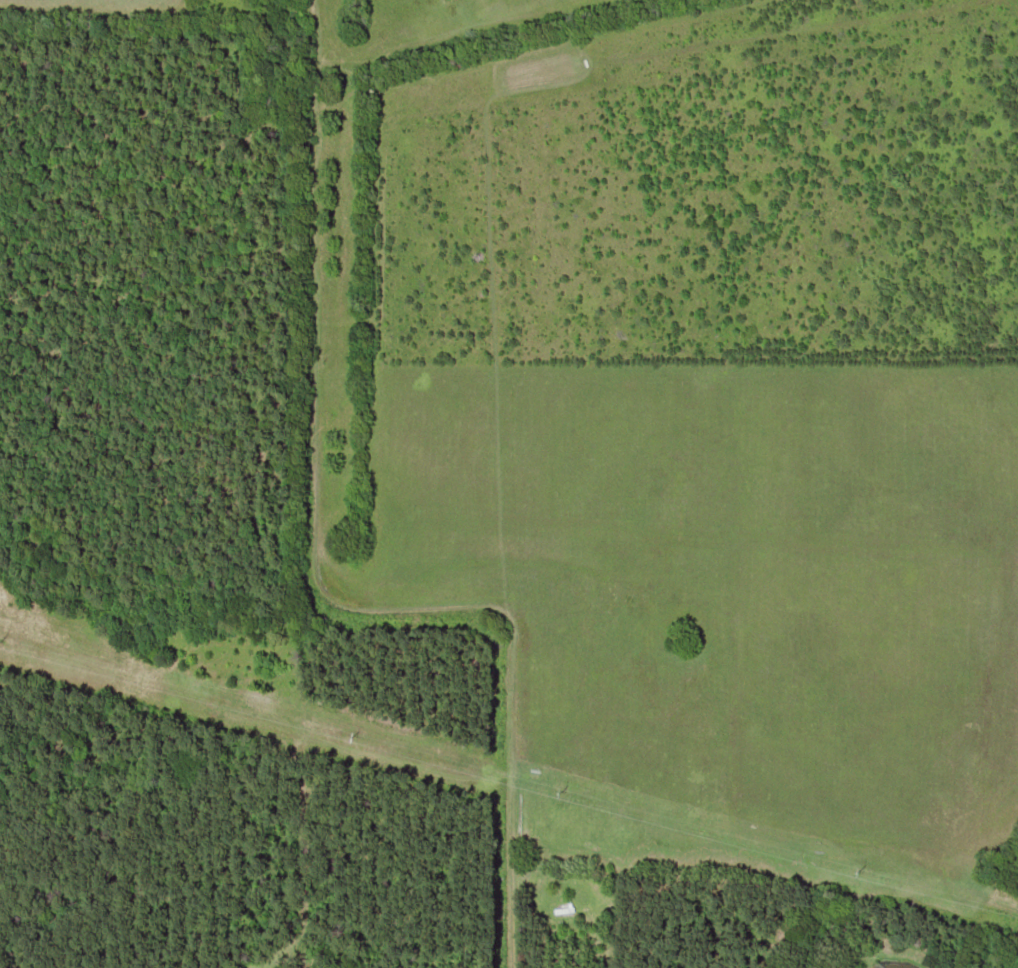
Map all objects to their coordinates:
road: (313, 570)

